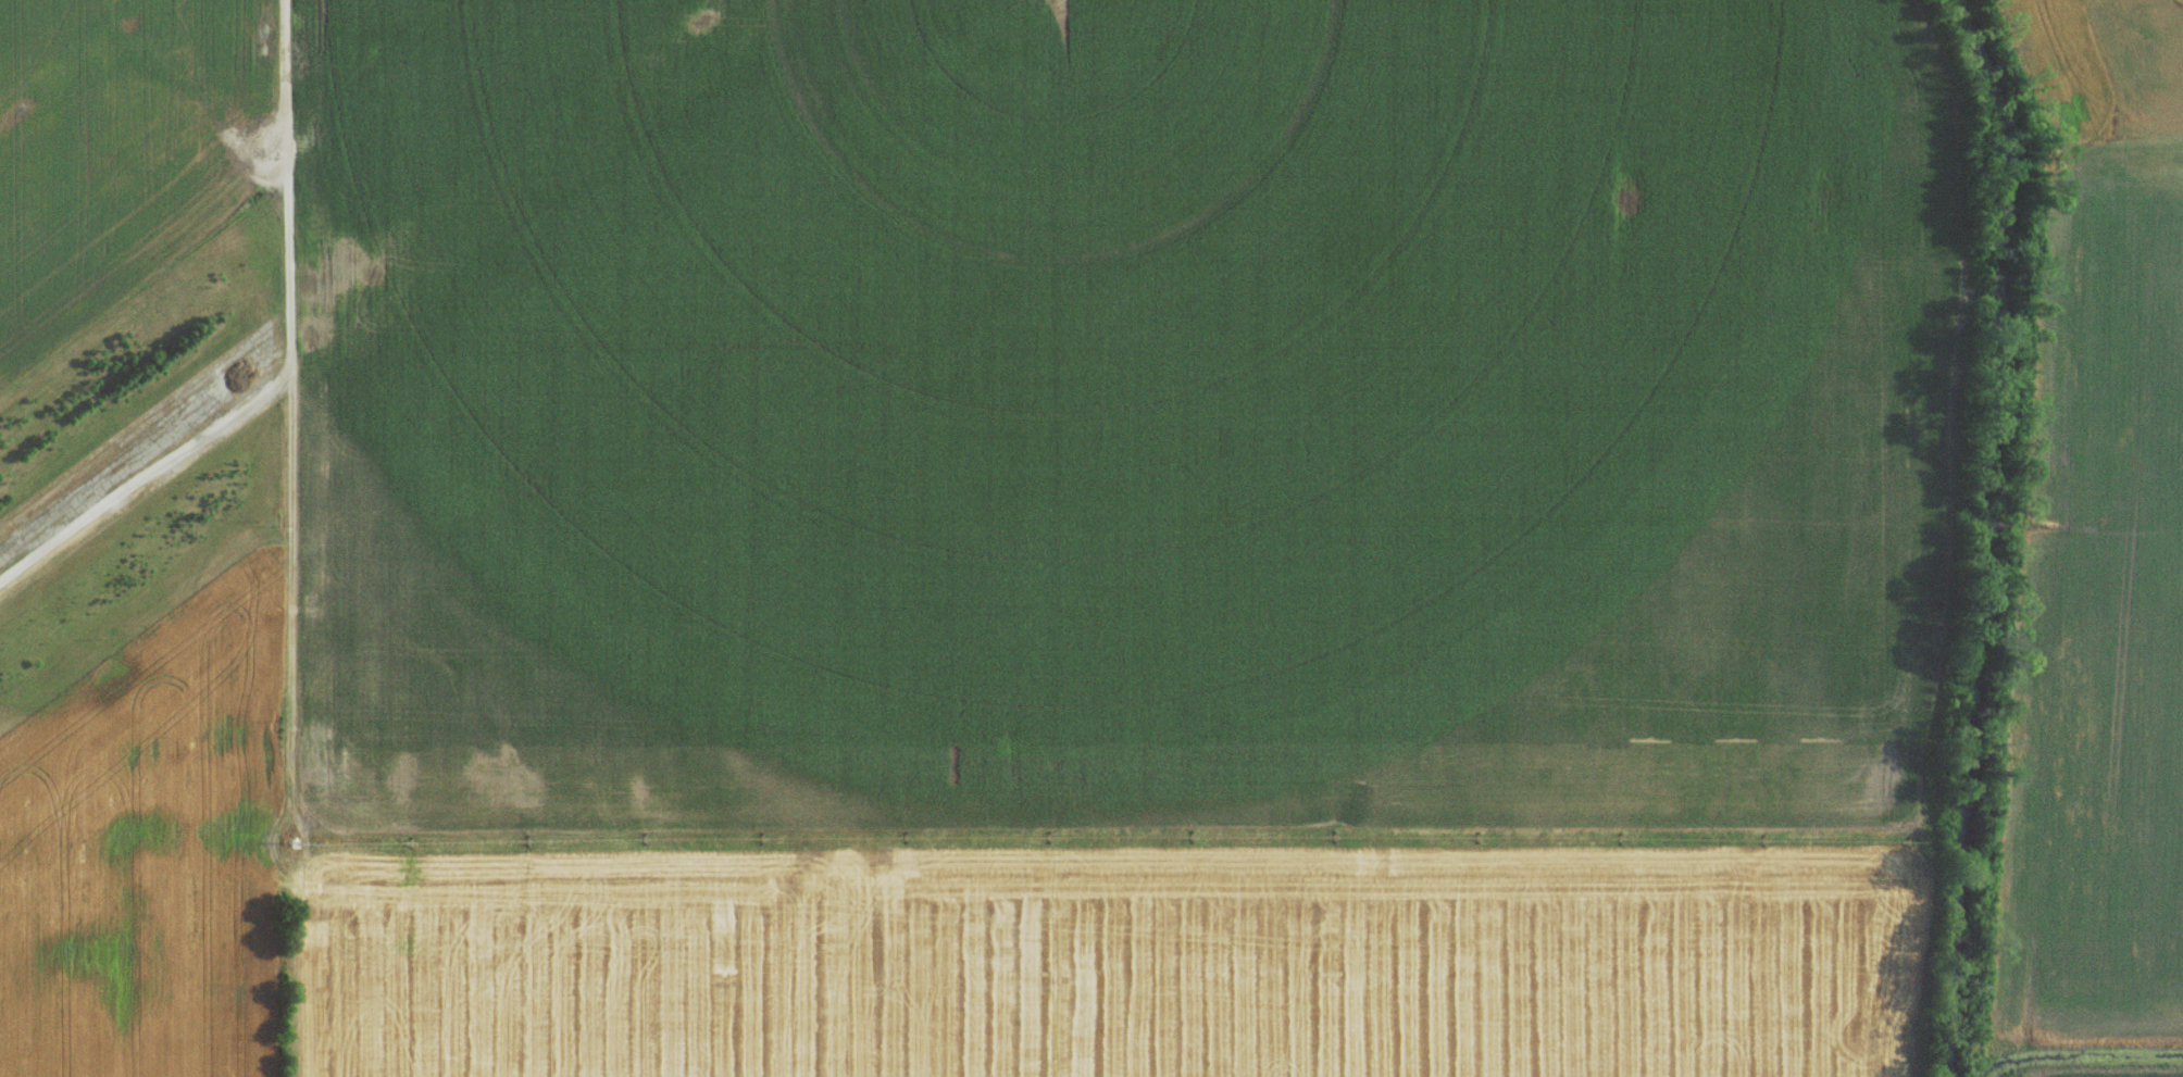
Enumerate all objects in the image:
airport: (133, 345)

